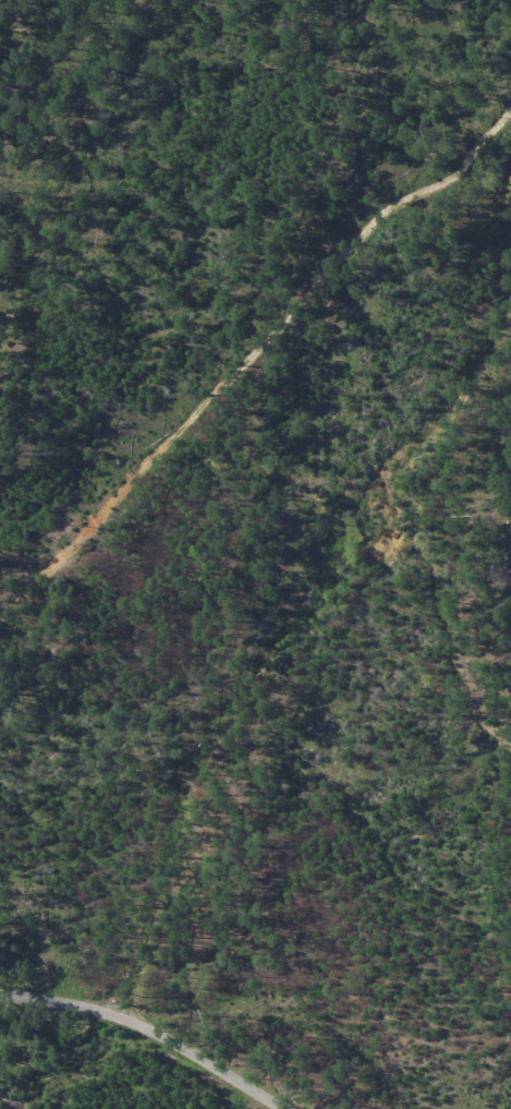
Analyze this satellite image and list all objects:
park: (255, 554)
road: (149, 1030)

